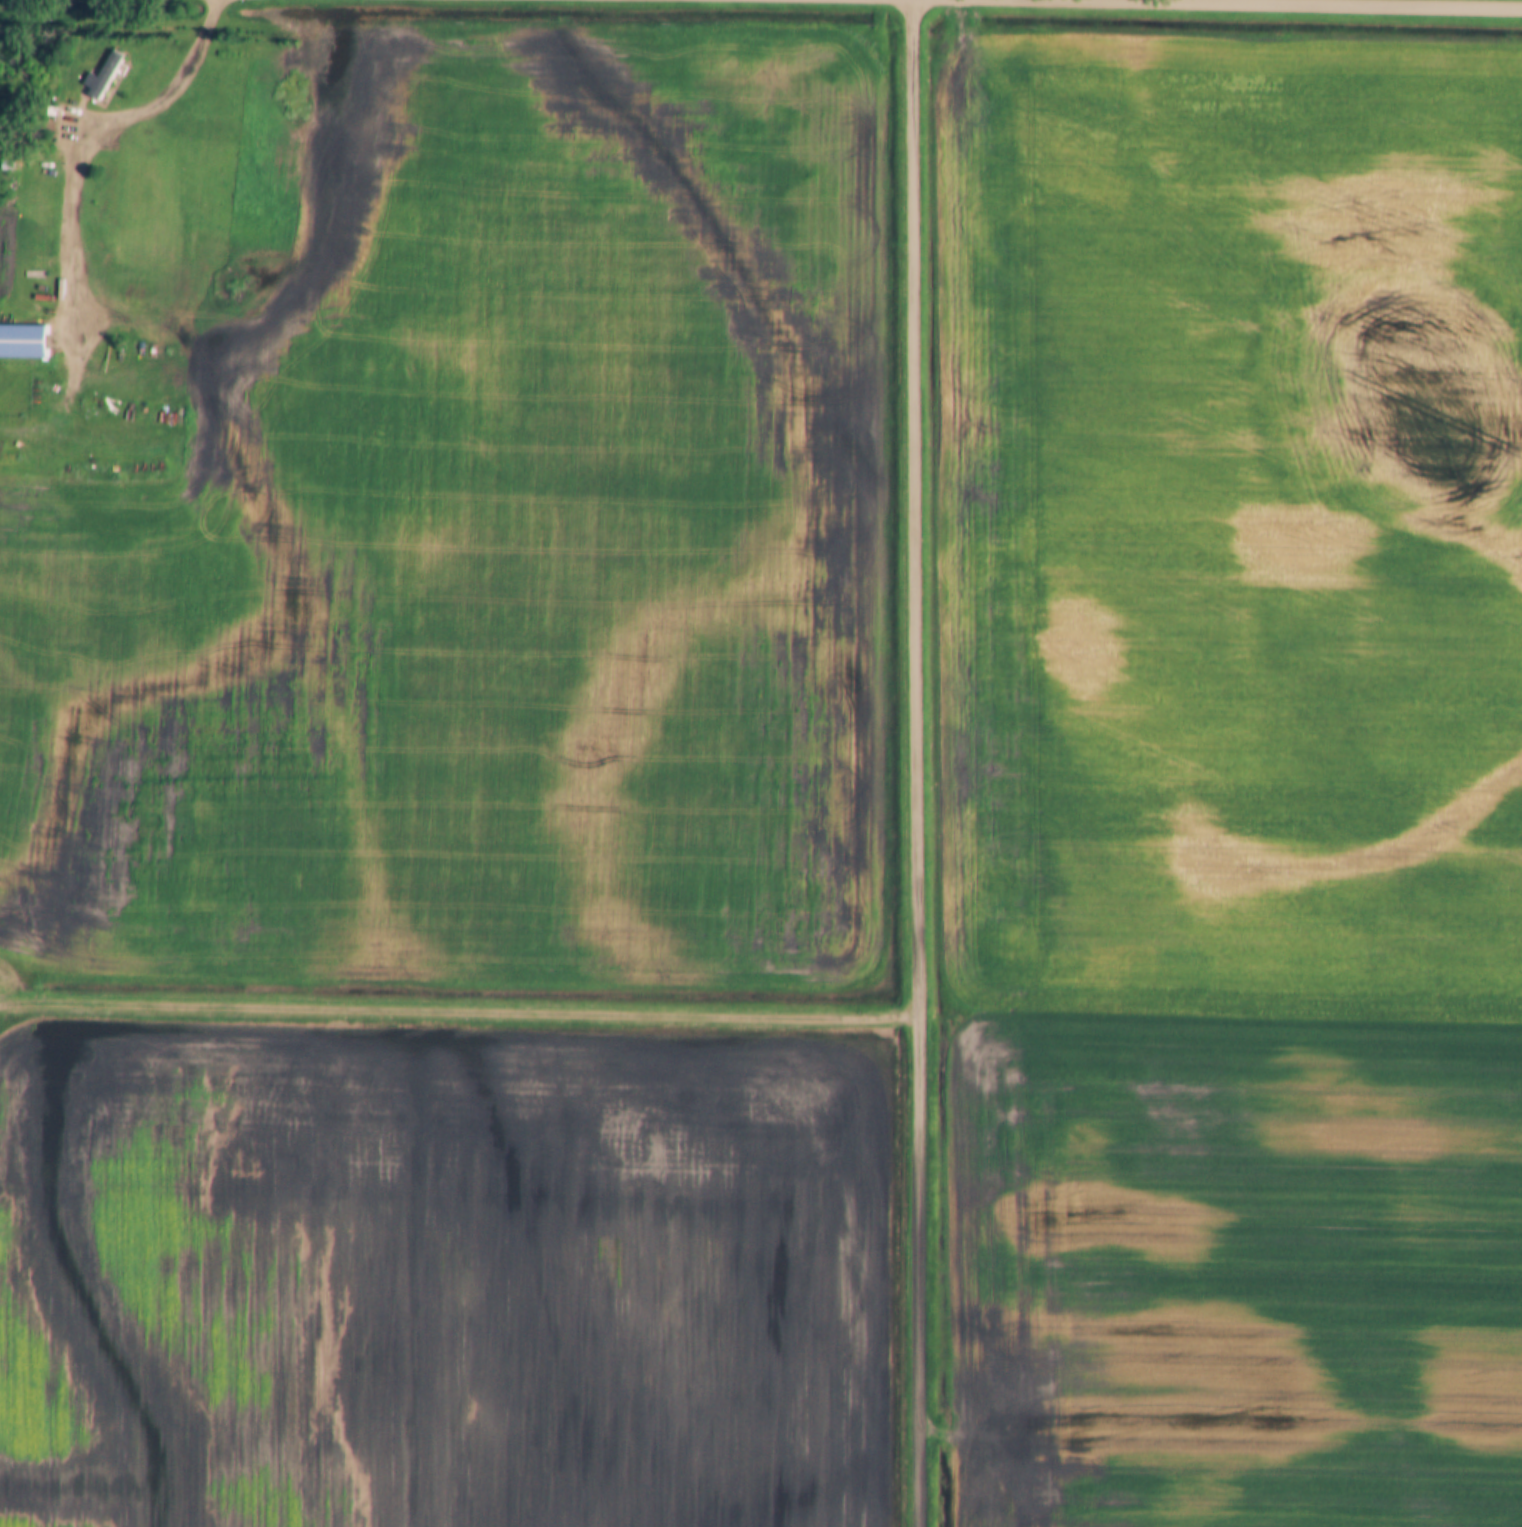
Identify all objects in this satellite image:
road: (1302, 5)
building: (101, 76)
building: (23, 339)
road: (920, 763)
road: (460, 1012)

